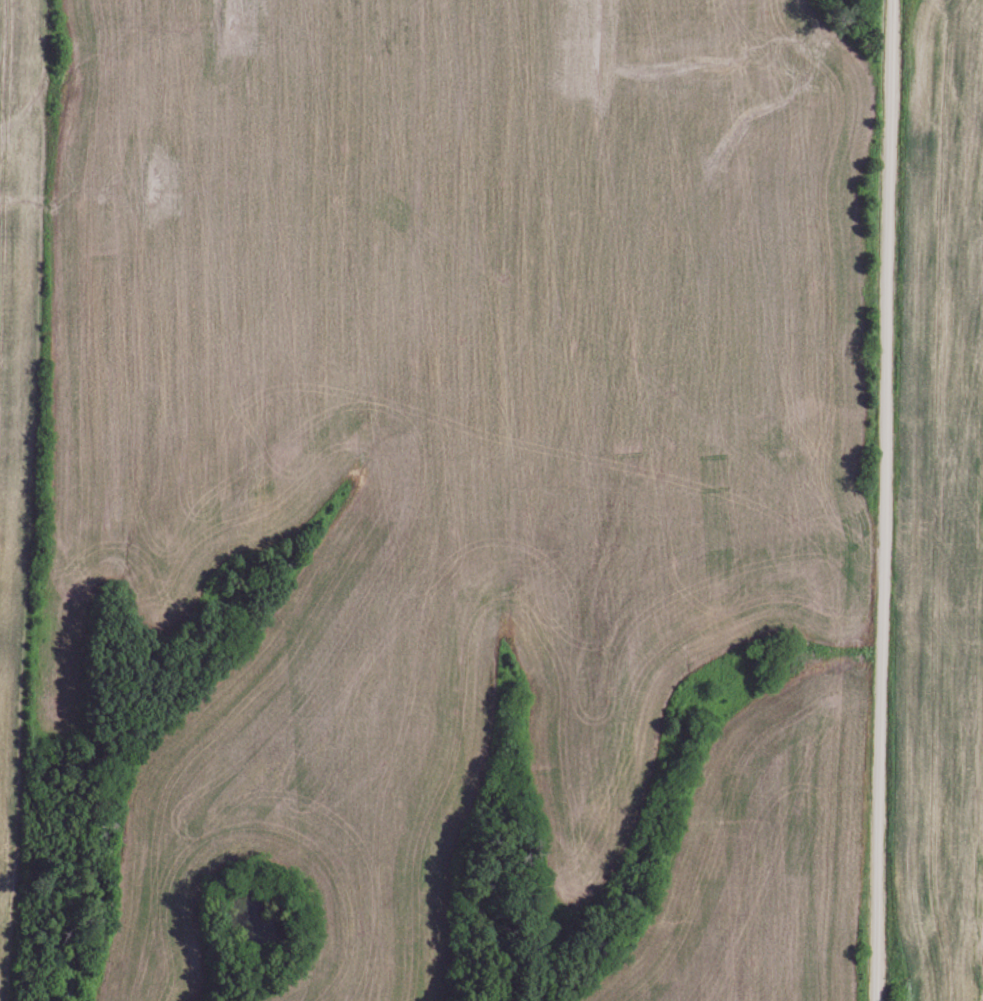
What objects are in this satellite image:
road: (893, 500)

